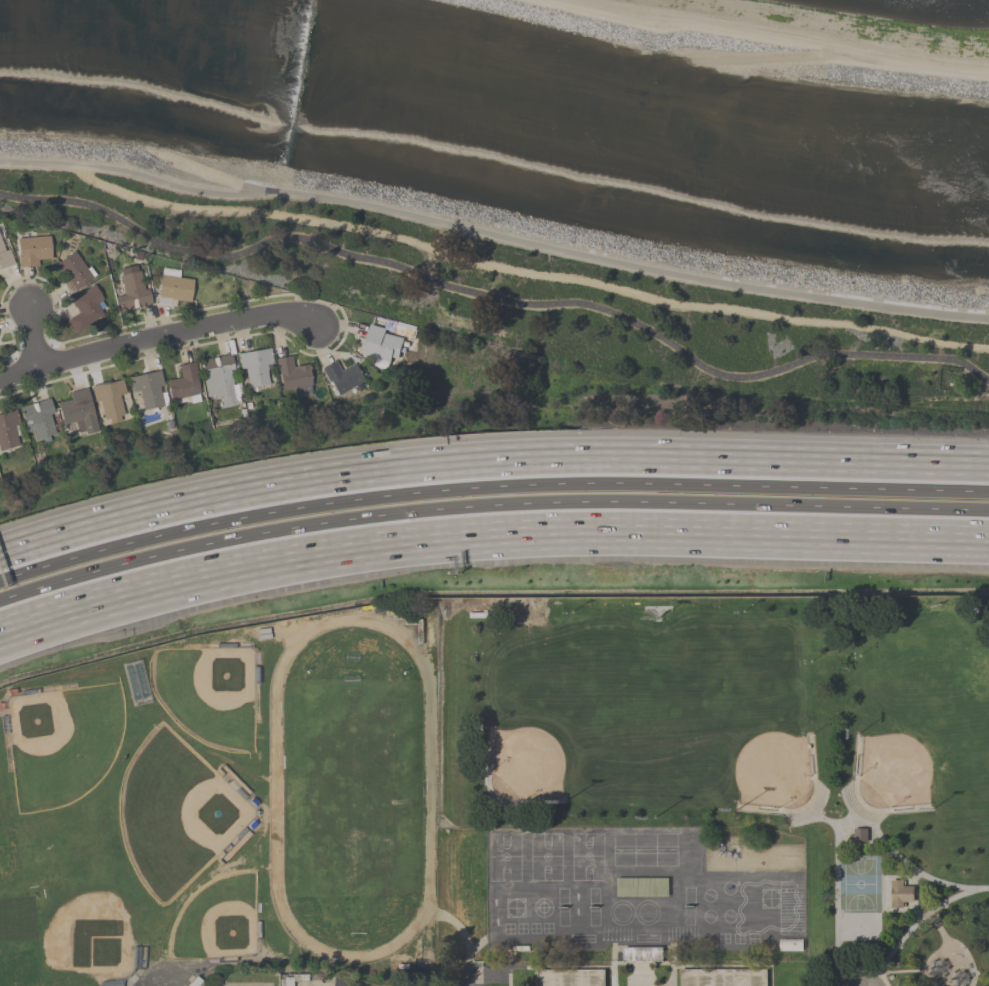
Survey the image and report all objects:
river: (495, 112)
road: (204, 171)
road: (531, 244)
building: (34, 250)
building: (4, 251)
building: (75, 271)
building: (175, 286)
building: (133, 291)
road: (496, 298)
building: (86, 308)
road: (295, 322)
road: (37, 332)
road: (133, 345)
building: (383, 346)
building: (256, 368)
building: (294, 376)
building: (342, 377)
building: (221, 381)
building: (184, 385)
building: (149, 389)
building: (110, 400)
building: (79, 412)
building: (40, 419)
building: (9, 430)
road: (489, 457)
road: (489, 487)
road: (489, 505)
road: (489, 536)
park: (747, 748)
track: (351, 791)
road: (835, 852)
building: (900, 894)
road: (918, 920)
road: (938, 928)
road: (948, 944)
building: (570, 978)
building: (724, 978)
building: (287, 981)
building: (196, 982)
parking lot: (858, 982)

